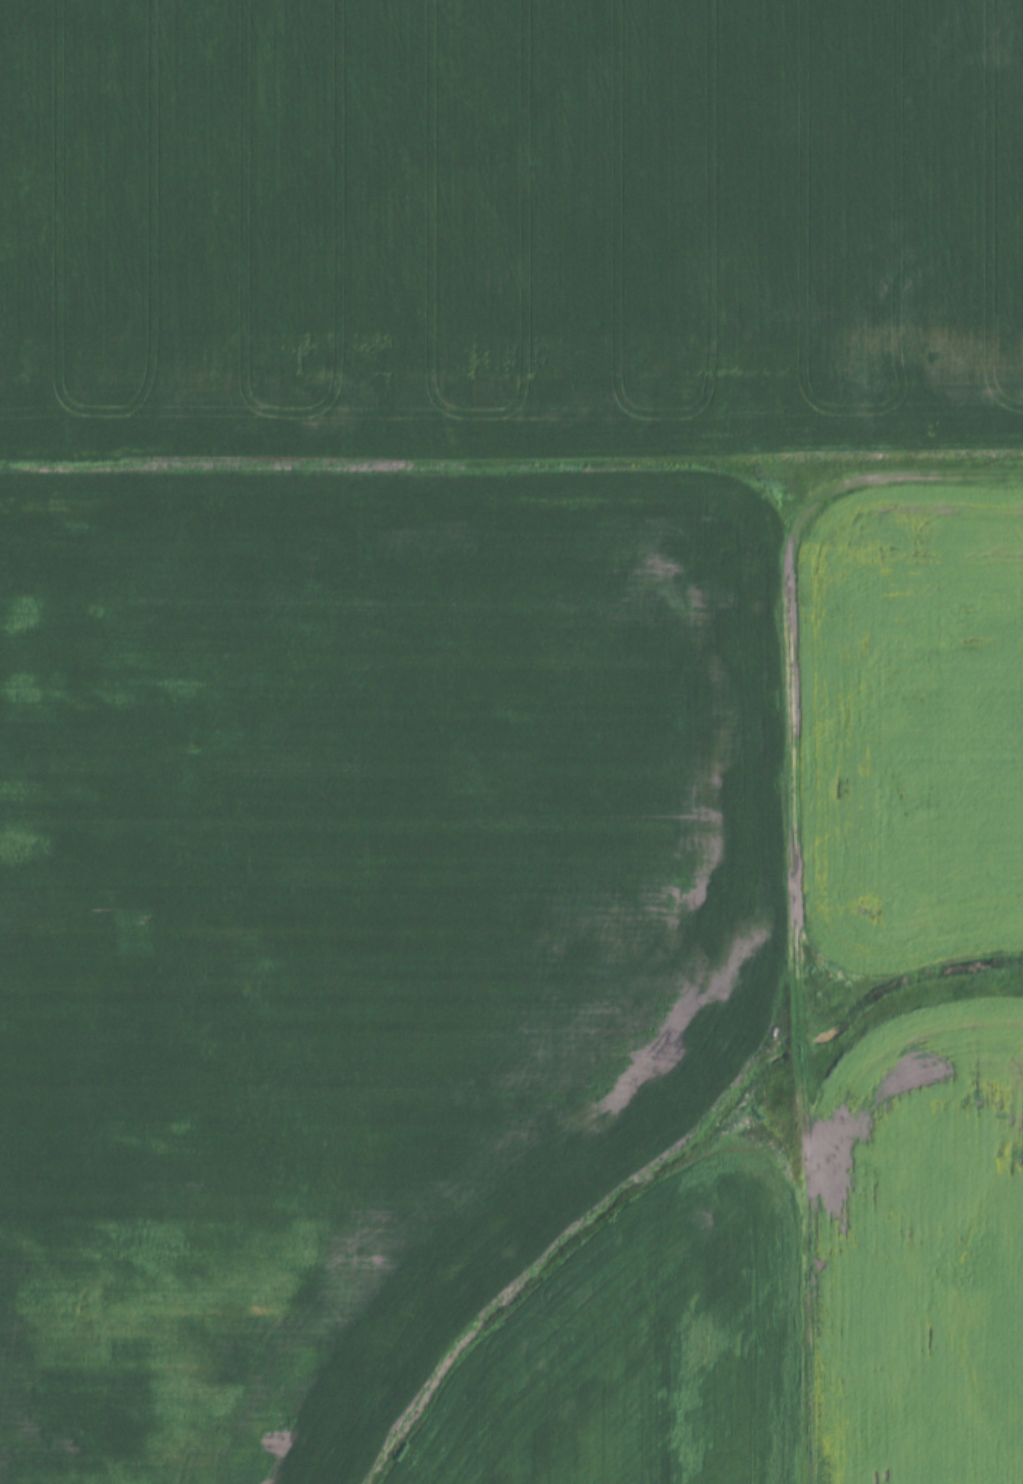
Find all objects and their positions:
road: (793, 728)

